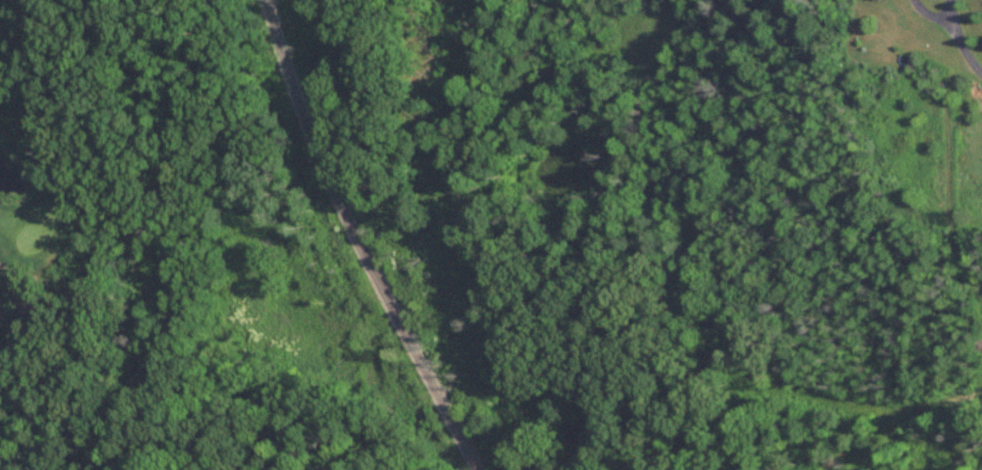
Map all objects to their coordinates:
road: (956, 35)
park: (70, 217)
road: (357, 240)

